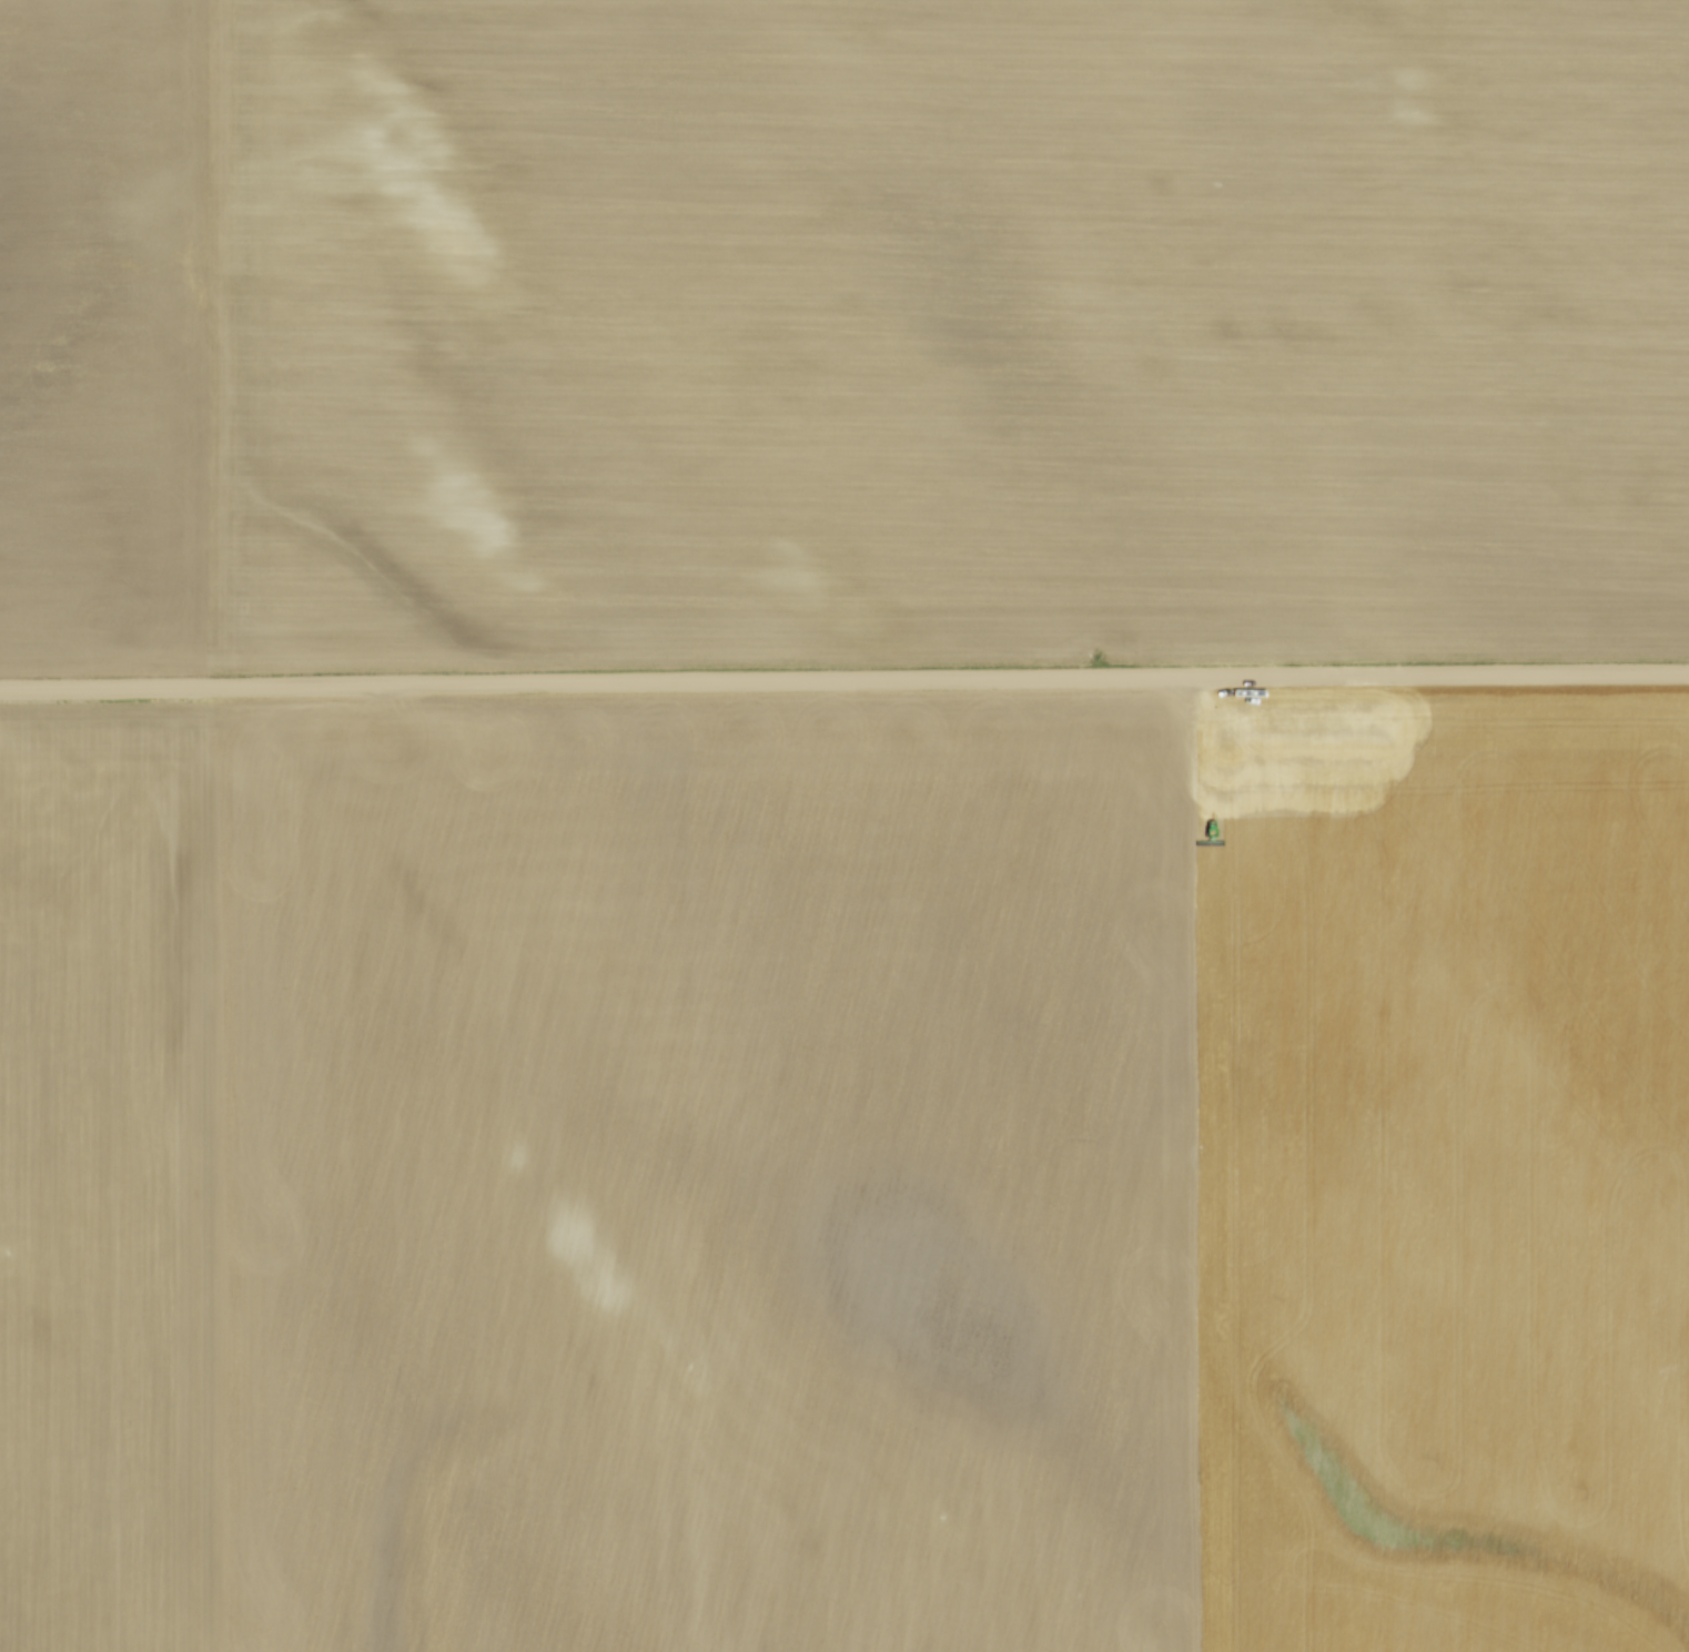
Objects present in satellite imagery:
crop: (842, 328)
road: (844, 682)
crop: (846, 1176)

